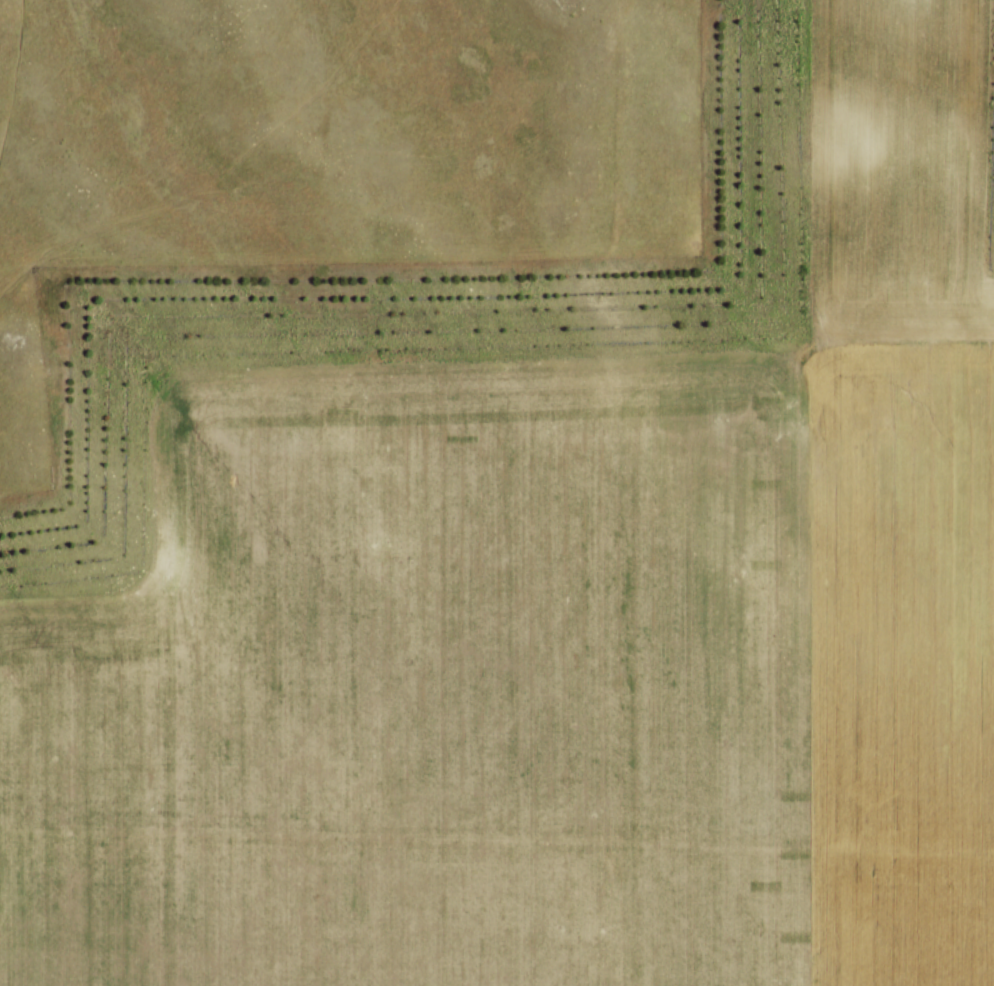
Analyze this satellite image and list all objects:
crop: (559, 628)

